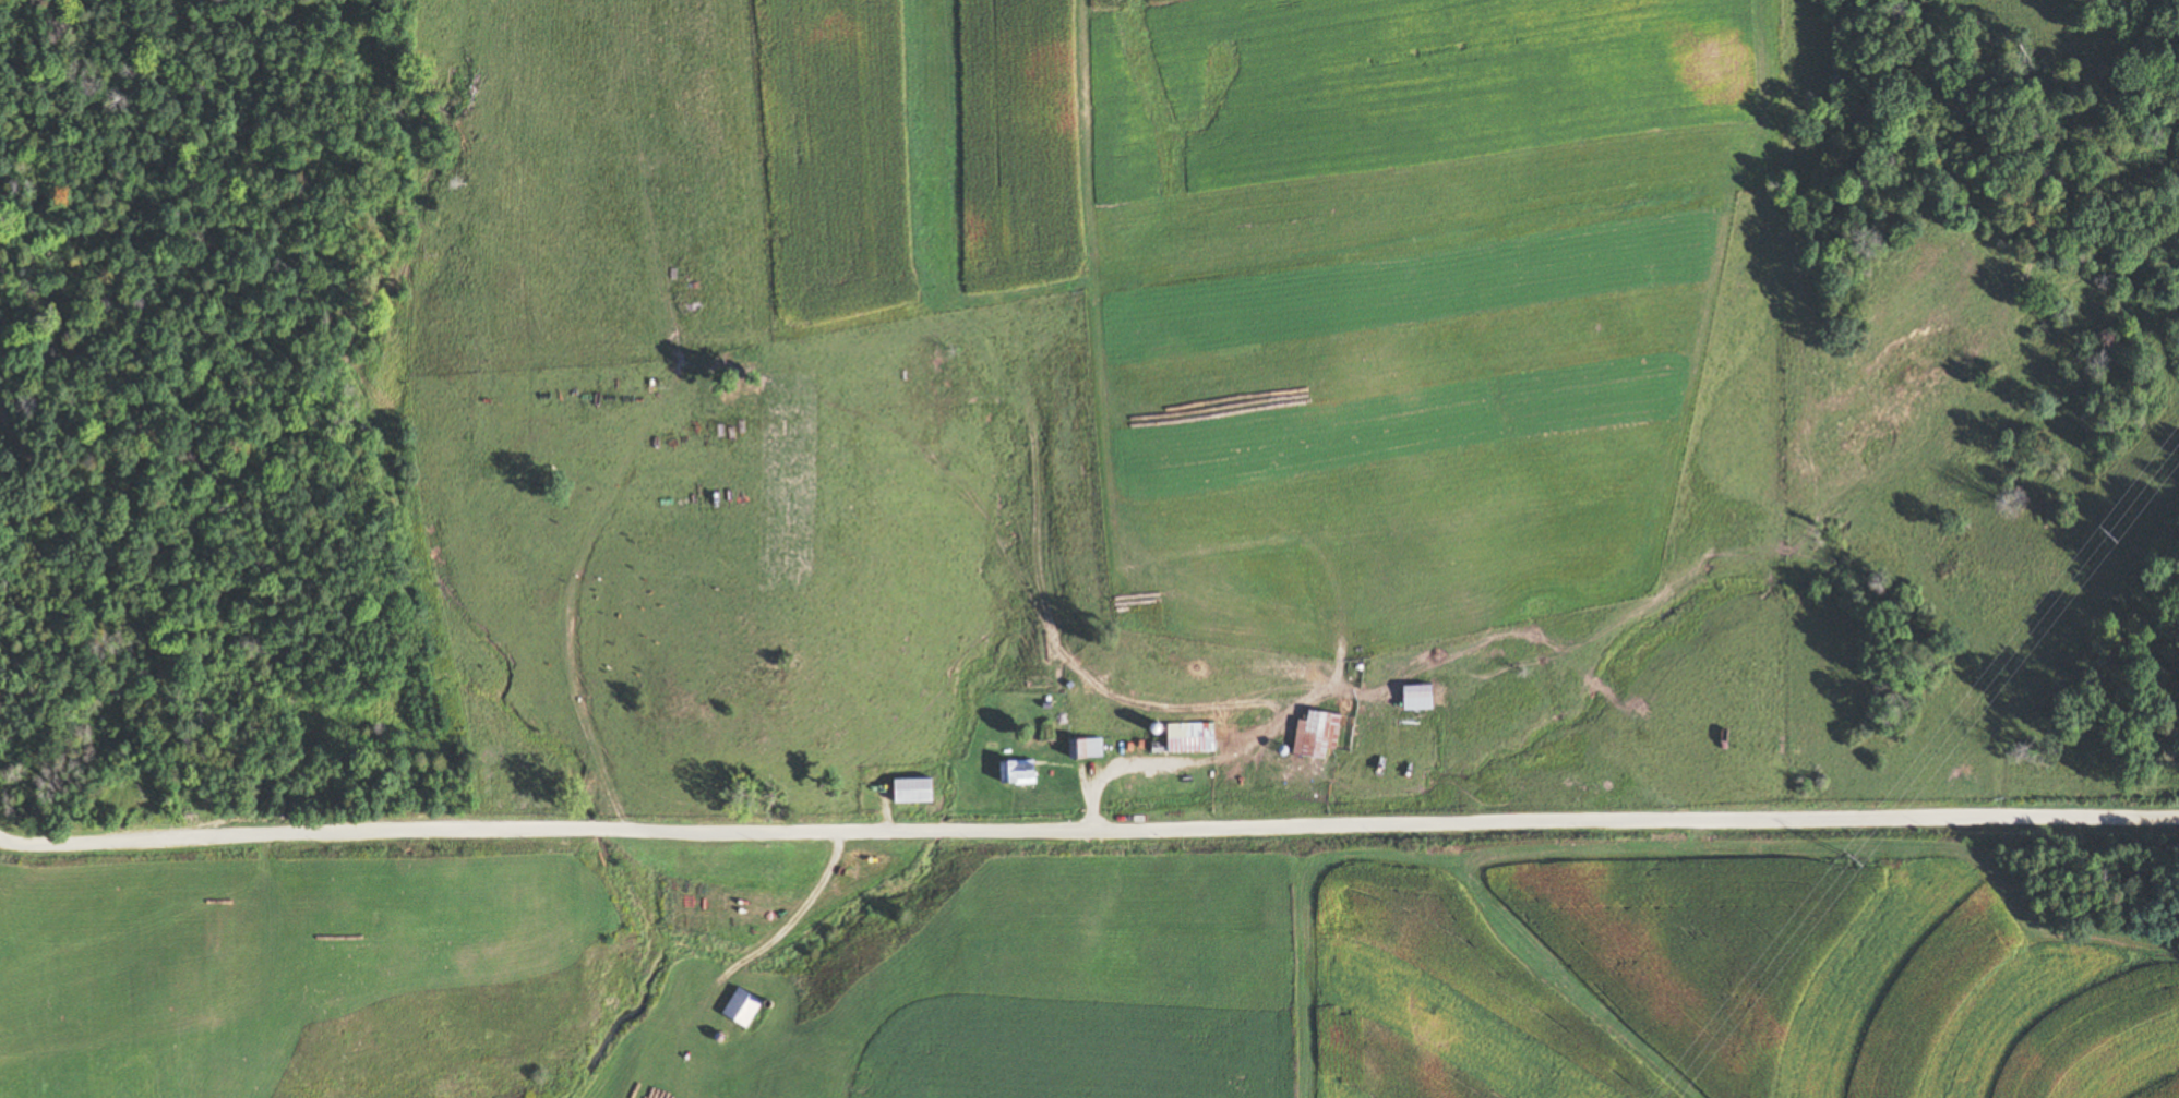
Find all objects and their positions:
crop: (1761, 68)
crop: (917, 158)
crop: (1406, 288)
crop: (1736, 405)
power tower: (2116, 532)
building: (1412, 696)
crop: (1721, 712)
building: (1320, 735)
building: (1195, 737)
building: (1163, 747)
building: (1091, 749)
road: (1221, 755)
building: (1025, 773)
building: (922, 792)
road: (885, 810)
road: (1088, 830)
power tower: (1855, 857)
road: (791, 918)
crop: (112, 933)
crop: (1643, 972)
crop: (1091, 985)
building: (742, 1006)
crop: (2069, 1025)
crop: (84, 1062)
crop: (667, 1066)

